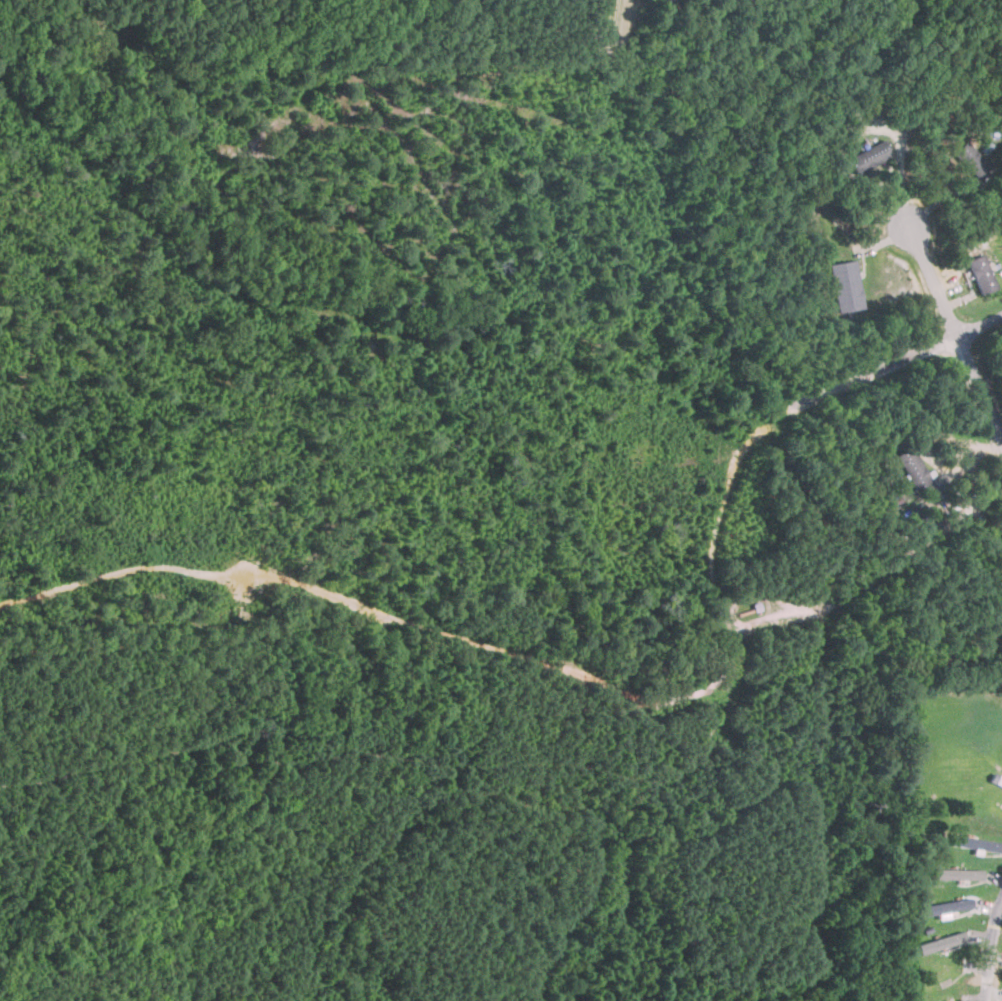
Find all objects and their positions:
building: (668, 1)
building: (871, 156)
building: (969, 159)
building: (978, 274)
building: (847, 286)
road: (950, 324)
road: (898, 359)
building: (913, 470)
building: (976, 843)
building: (957, 873)
building: (940, 942)
road: (989, 947)

